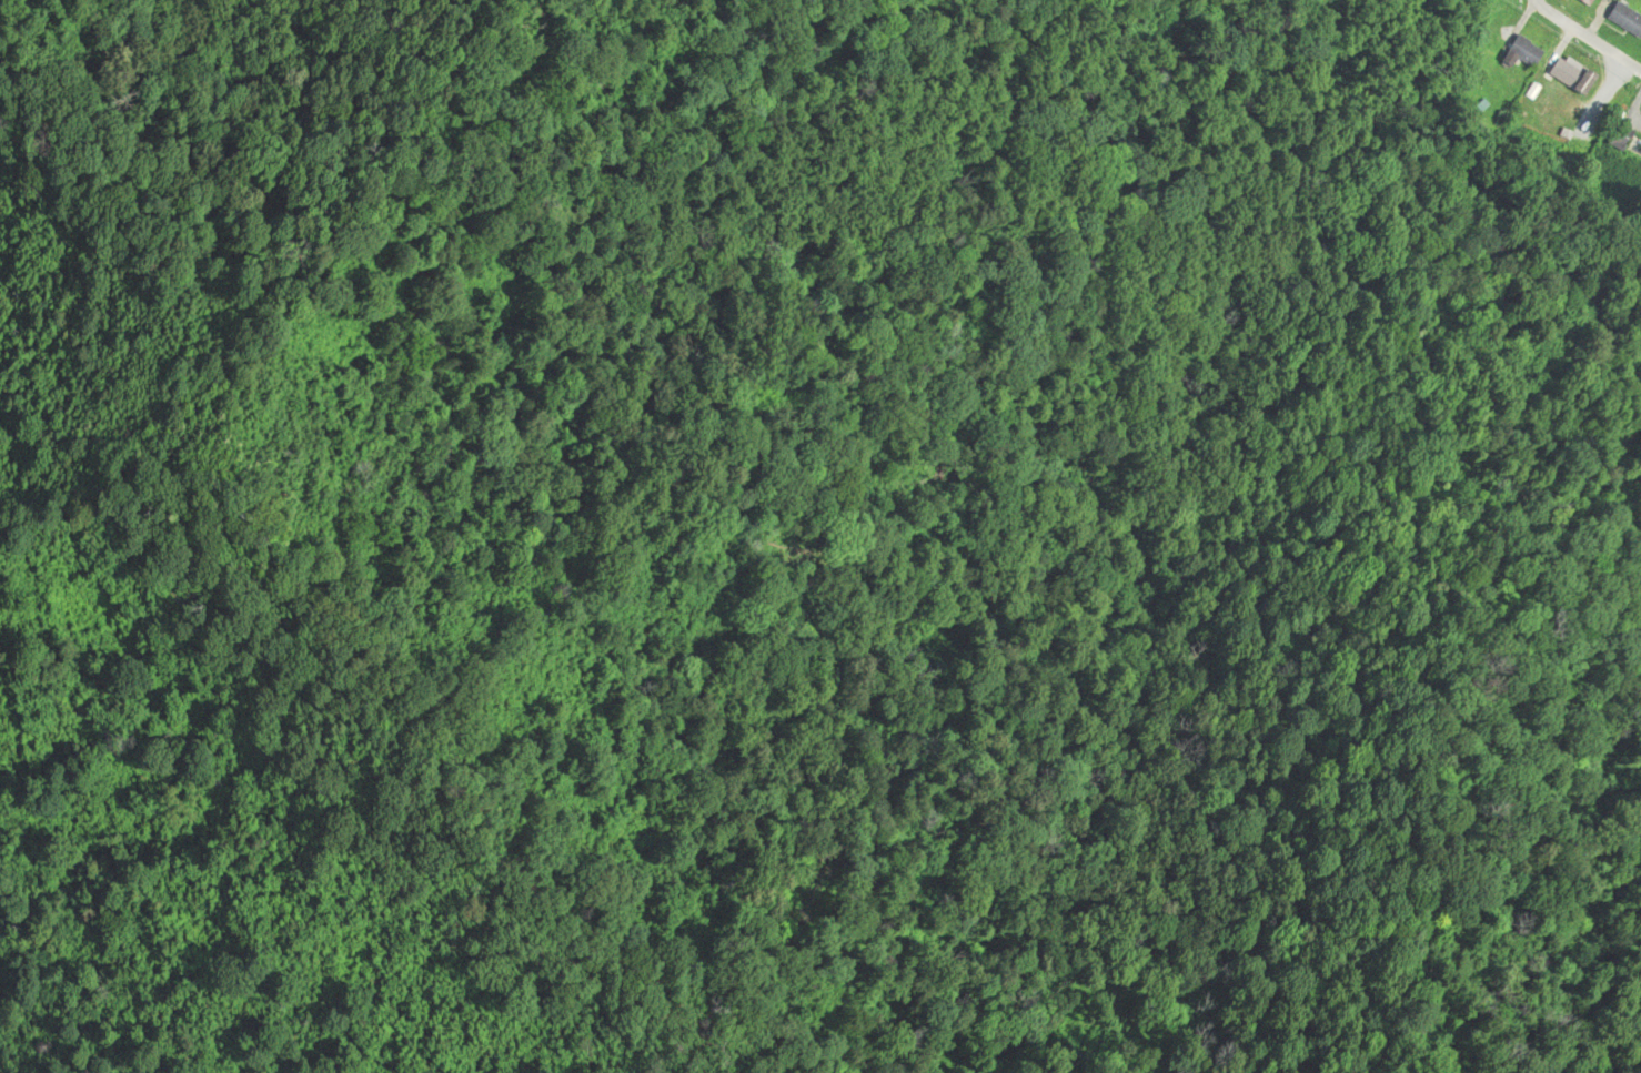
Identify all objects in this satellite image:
building: (1579, 2)
building: (1621, 21)
road: (1584, 33)
building: (1518, 51)
building: (1564, 75)
building: (1613, 138)

